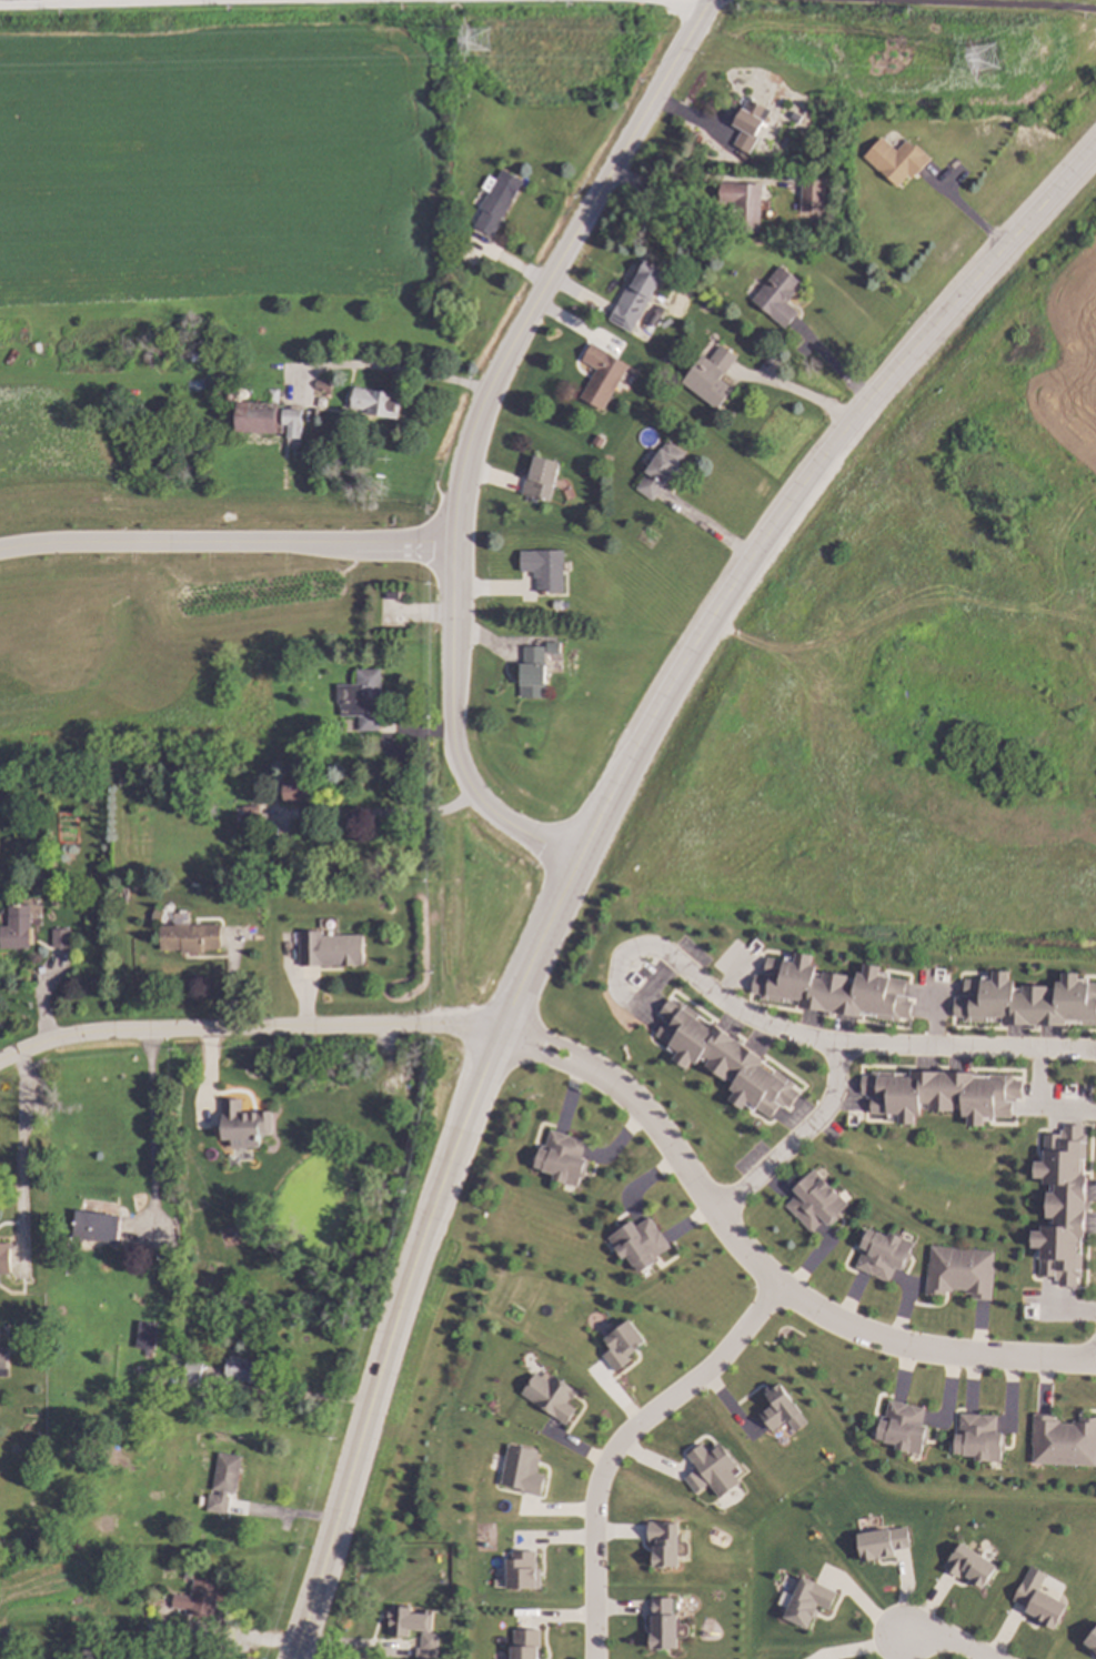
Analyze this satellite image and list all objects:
road: (673, 1)
road: (168, 3)
road: (1002, 3)
power tower: (479, 44)
power tower: (985, 63)
building: (796, 117)
building: (751, 122)
road: (621, 152)
building: (896, 159)
crop: (213, 164)
building: (814, 194)
building: (499, 200)
building: (744, 204)
building: (642, 286)
building: (780, 295)
building: (657, 314)
building: (603, 374)
road: (422, 375)
building: (712, 375)
road: (796, 391)
building: (373, 403)
building: (267, 420)
building: (662, 470)
building: (542, 476)
road: (224, 531)
road: (748, 561)
building: (546, 569)
building: (559, 604)
road: (450, 607)
building: (555, 646)
building: (533, 672)
building: (360, 700)
building: (294, 791)
road: (375, 815)
building: (16, 928)
building: (59, 938)
building: (188, 938)
building: (329, 949)
building: (834, 986)
building: (1028, 999)
road: (249, 1029)
road: (859, 1055)
building: (725, 1058)
road: (481, 1090)
building: (942, 1093)
road: (1039, 1108)
road: (149, 1120)
building: (242, 1125)
road: (19, 1140)
road: (798, 1143)
building: (564, 1157)
building: (817, 1200)
building: (1065, 1204)
building: (94, 1227)
building: (641, 1241)
building: (884, 1253)
building: (4, 1258)
road: (762, 1270)
building: (962, 1270)
building: (144, 1339)
building: (623, 1344)
building: (3, 1363)
building: (242, 1370)
building: (191, 1373)
building: (553, 1396)
road: (372, 1397)
building: (784, 1409)
building: (905, 1427)
building: (981, 1437)
building: (1065, 1441)
road: (627, 1445)
building: (716, 1467)
building: (523, 1469)
building: (222, 1482)
building: (694, 1482)
building: (661, 1545)
building: (879, 1545)
building: (967, 1567)
building: (520, 1570)
crop: (38, 1585)
building: (197, 1600)
building: (801, 1602)
building: (1043, 1610)
building: (403, 1620)
building: (661, 1625)
building: (432, 1641)
building: (1093, 1643)
building: (521, 1645)
road: (949, 1645)

